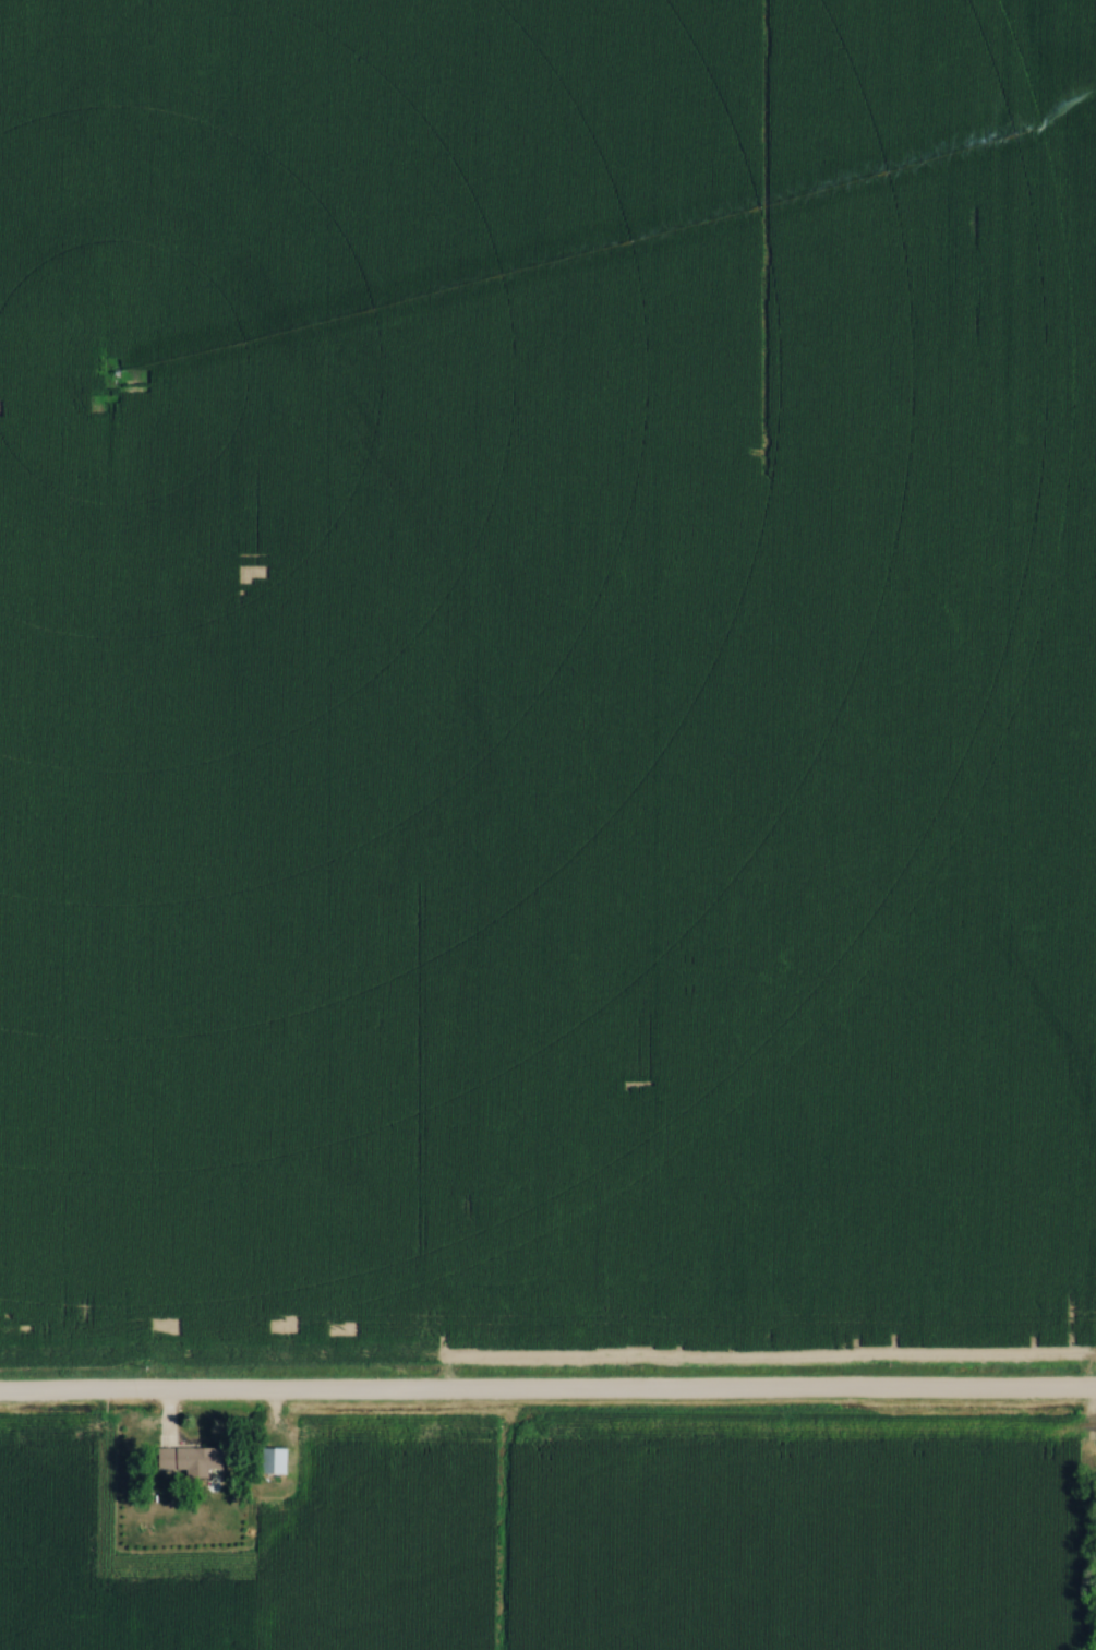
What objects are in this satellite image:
road: (547, 1398)
building: (275, 1459)
building: (193, 1460)

